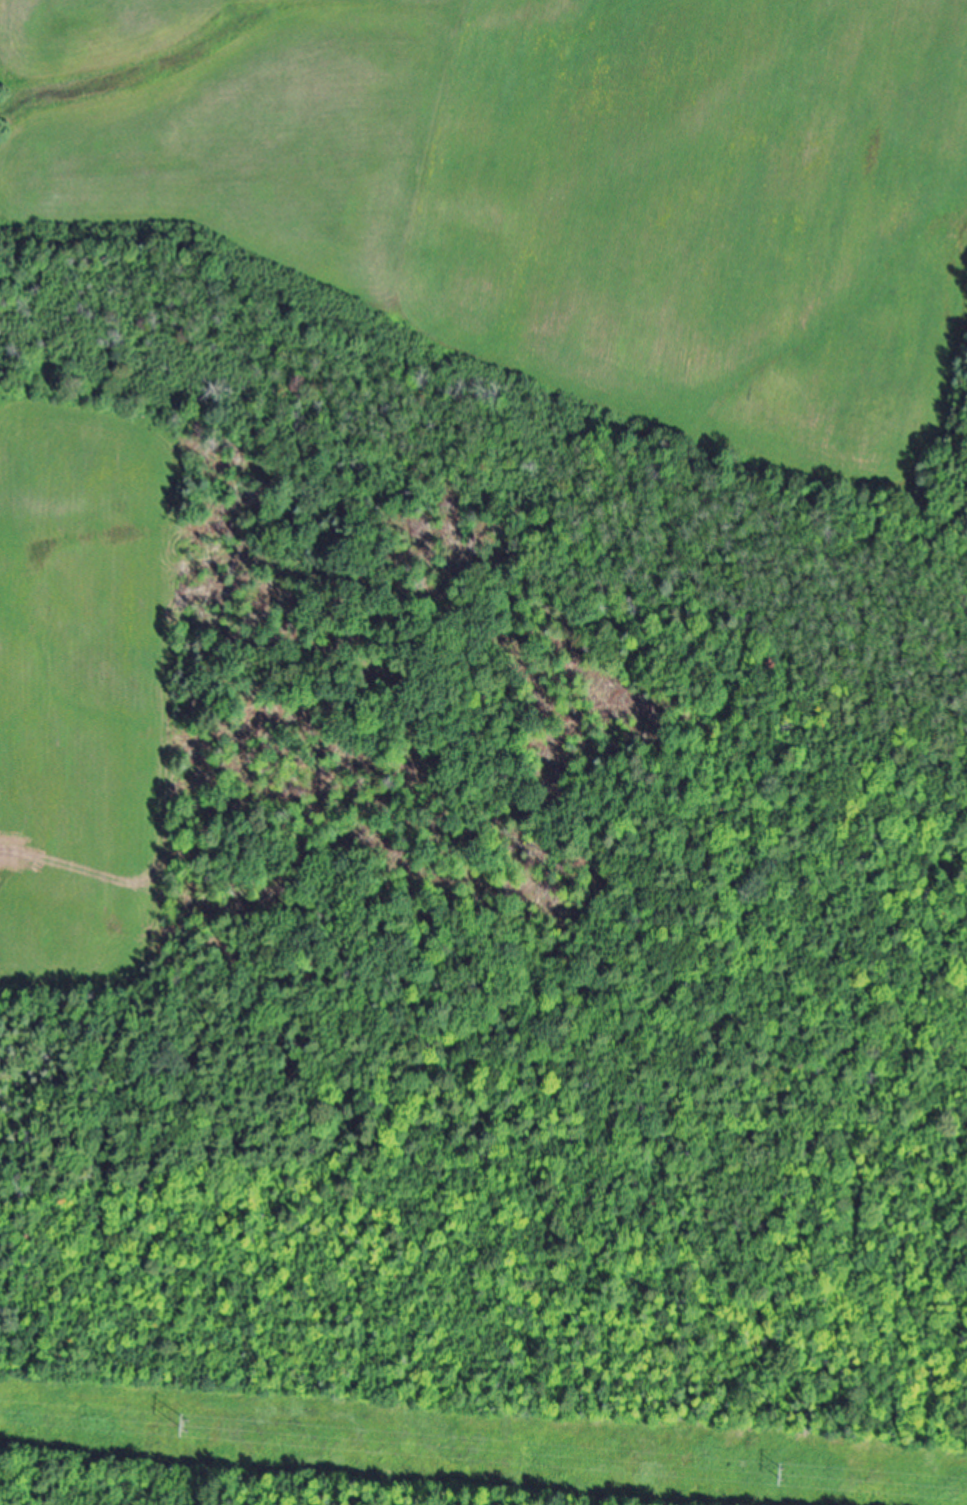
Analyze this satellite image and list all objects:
power tower: (189, 1429)
power tower: (782, 1478)

